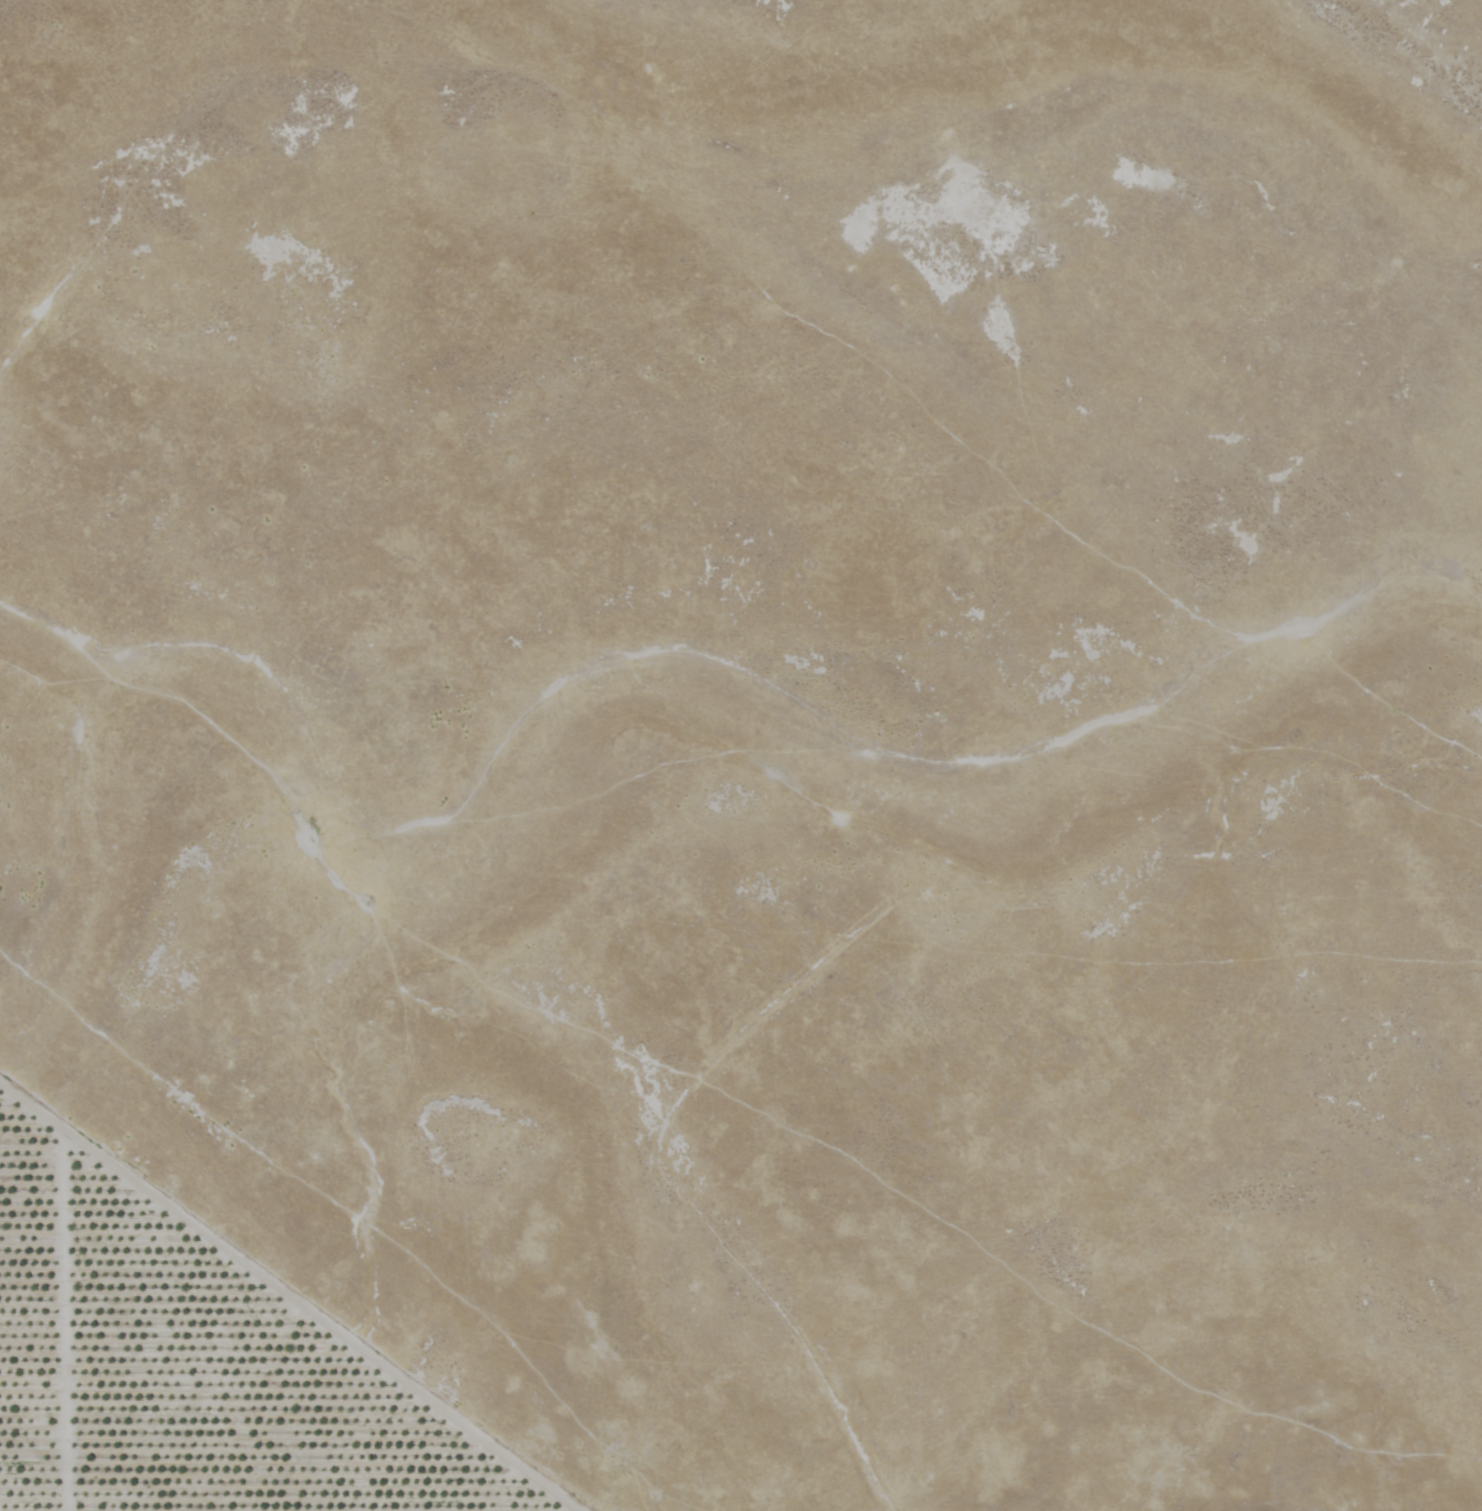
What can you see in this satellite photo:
crop: (196, 1366)

